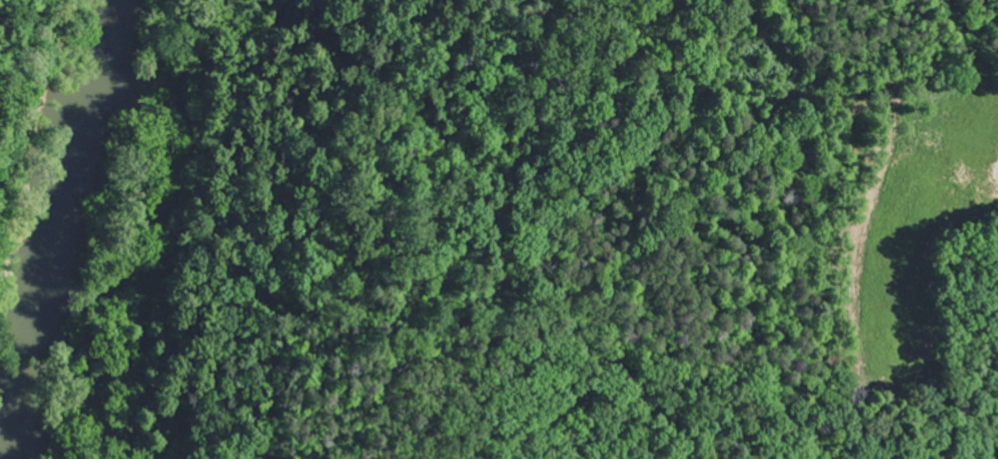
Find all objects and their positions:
river: (55, 226)

